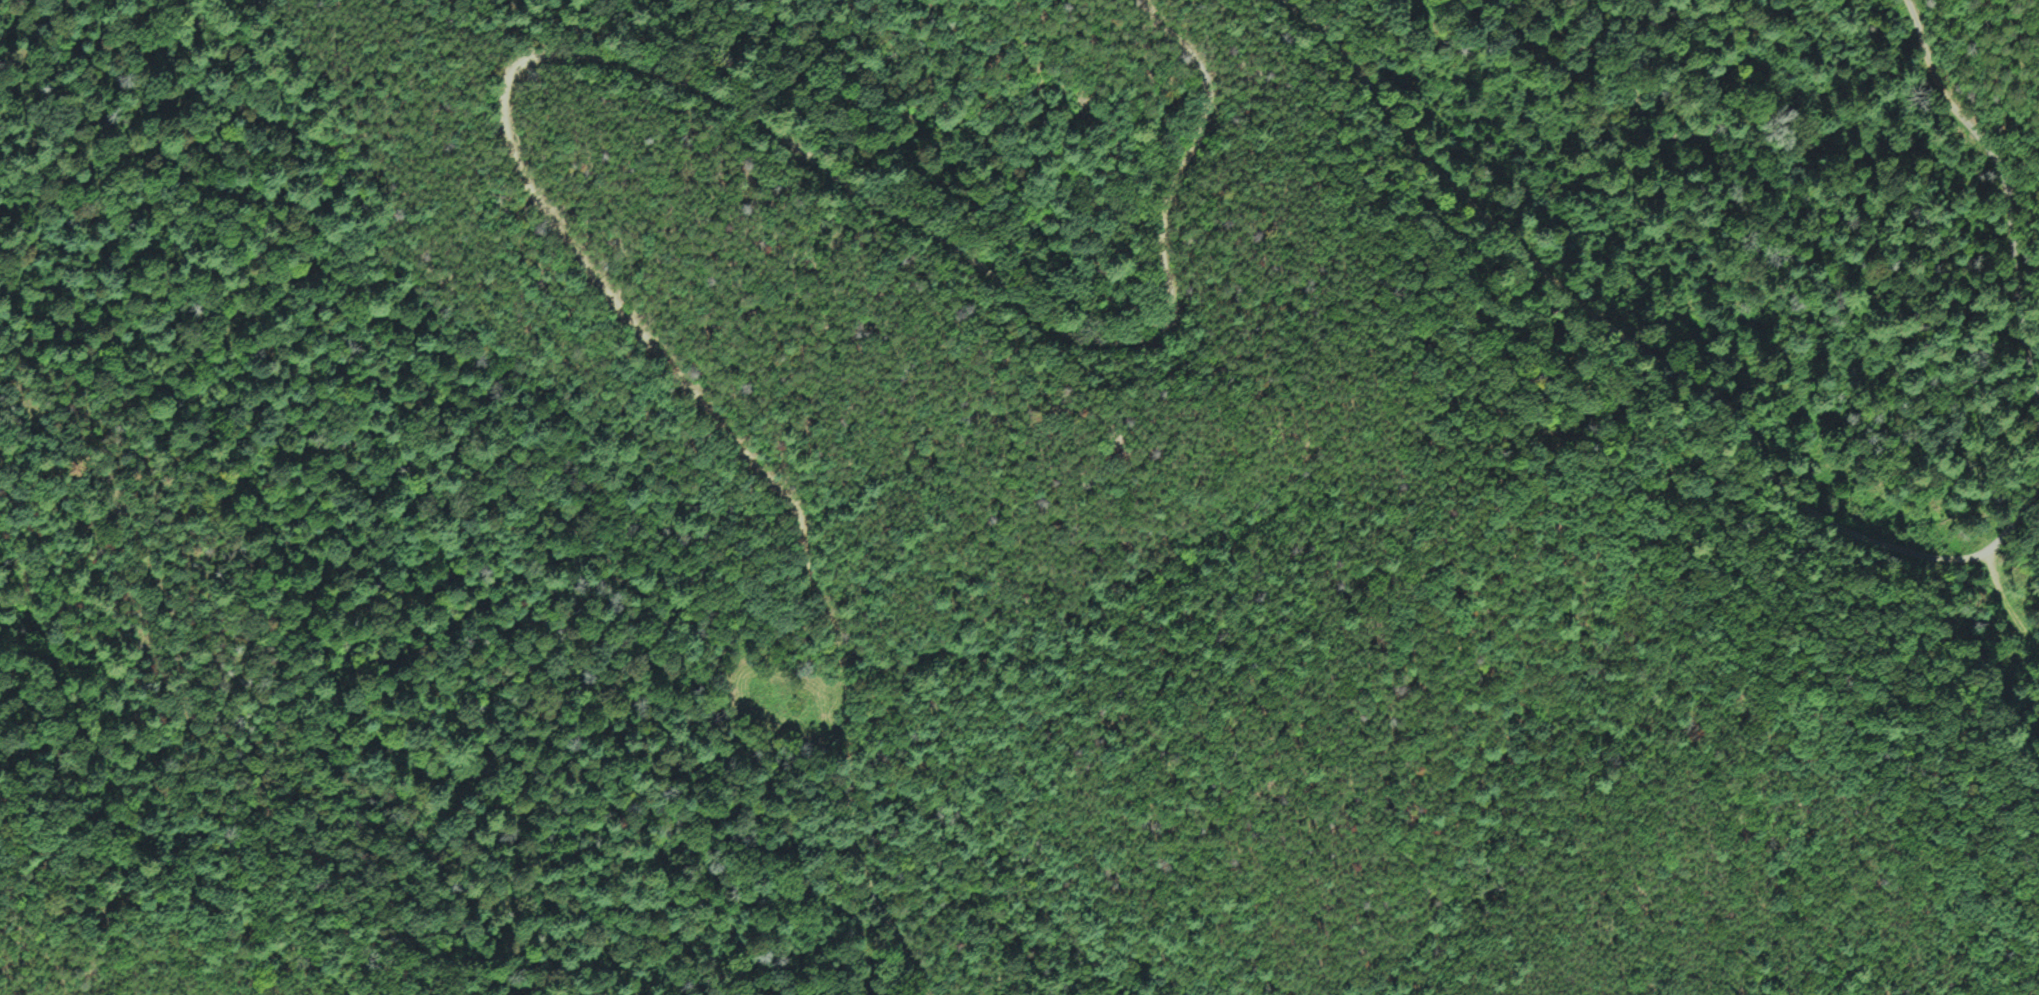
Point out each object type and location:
road: (518, 93)
road: (1844, 512)
road: (2013, 579)

